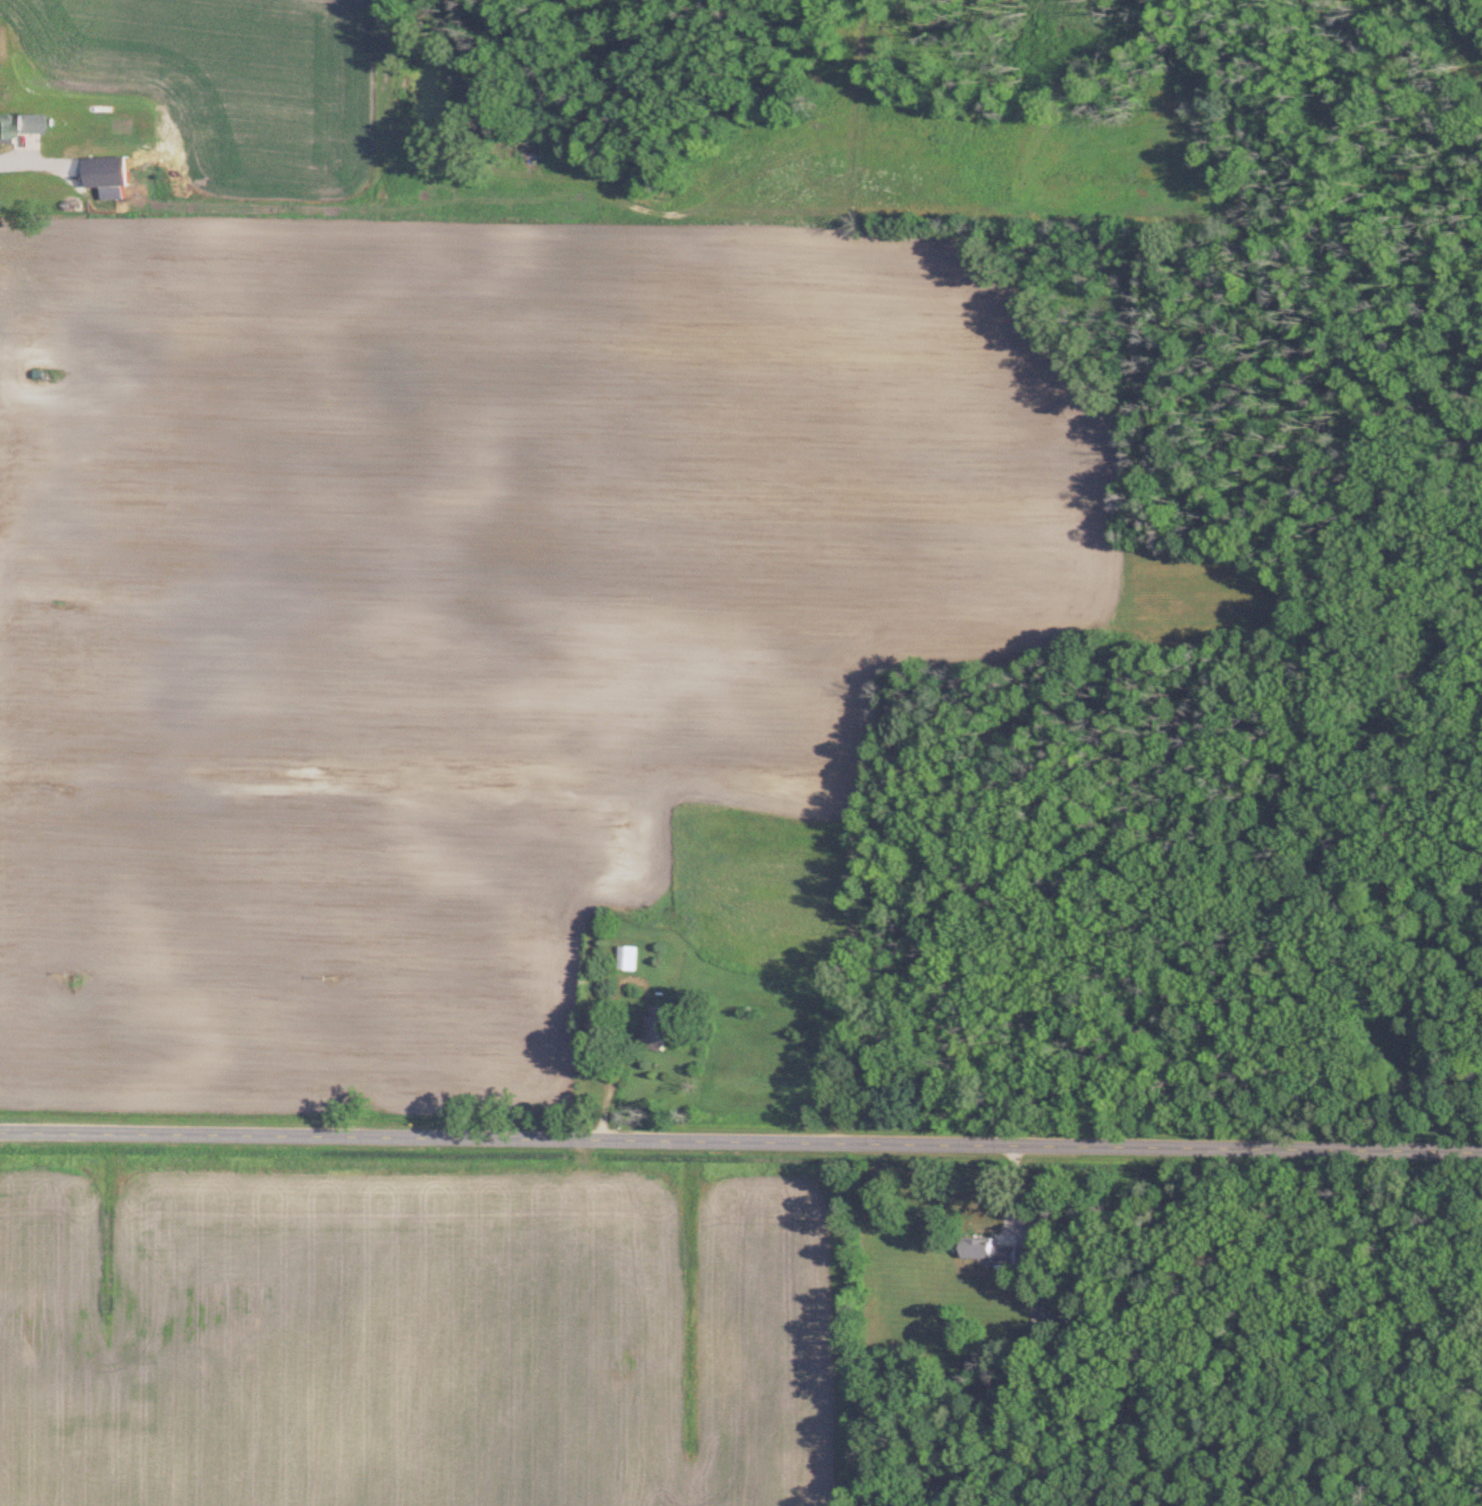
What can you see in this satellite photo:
building: (24, 124)
building: (2, 127)
building: (107, 176)
building: (628, 958)
building: (656, 1029)
road: (740, 1142)
building: (989, 1251)
building: (1074, 1320)

